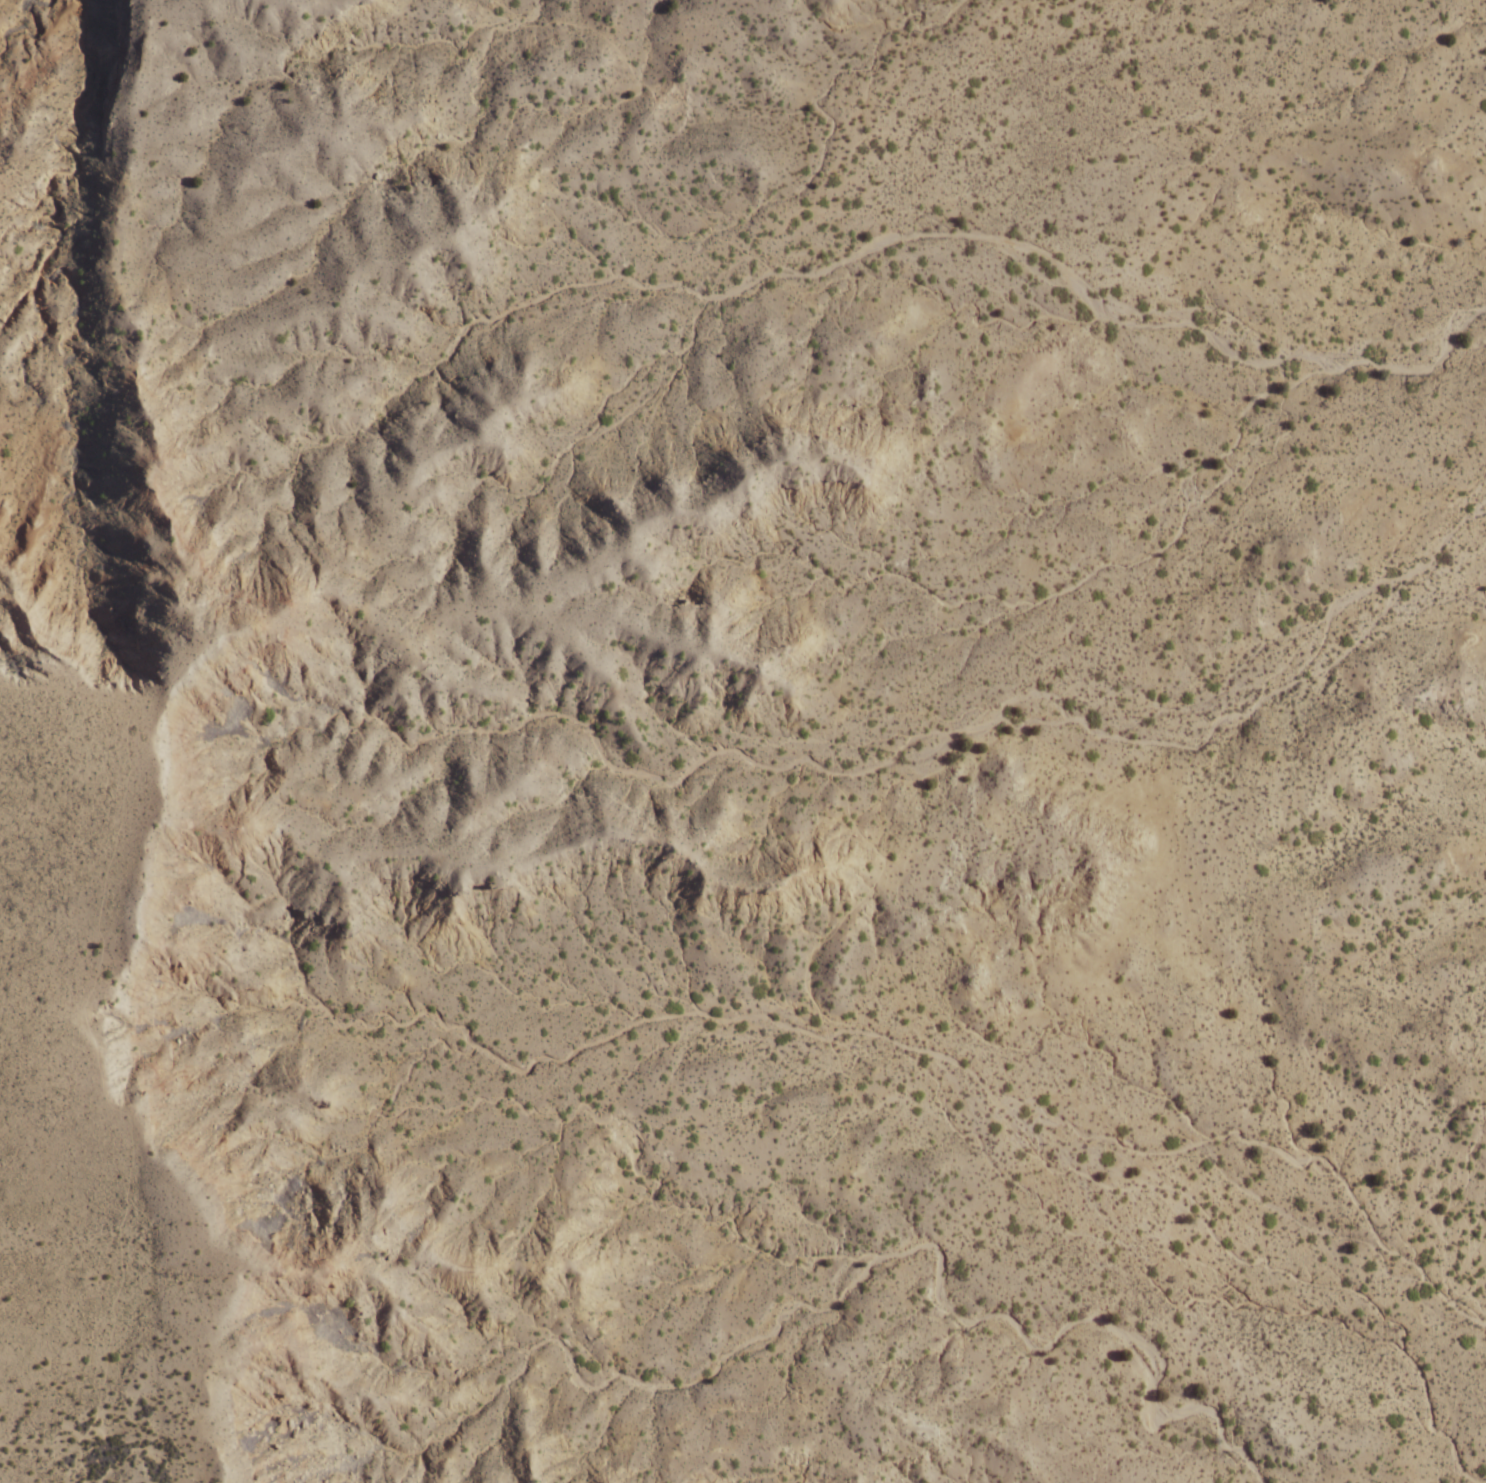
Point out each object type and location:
road: (670, 86)
road: (805, 274)
road: (872, 541)
road: (177, 673)
road: (84, 1025)
road: (827, 1145)

